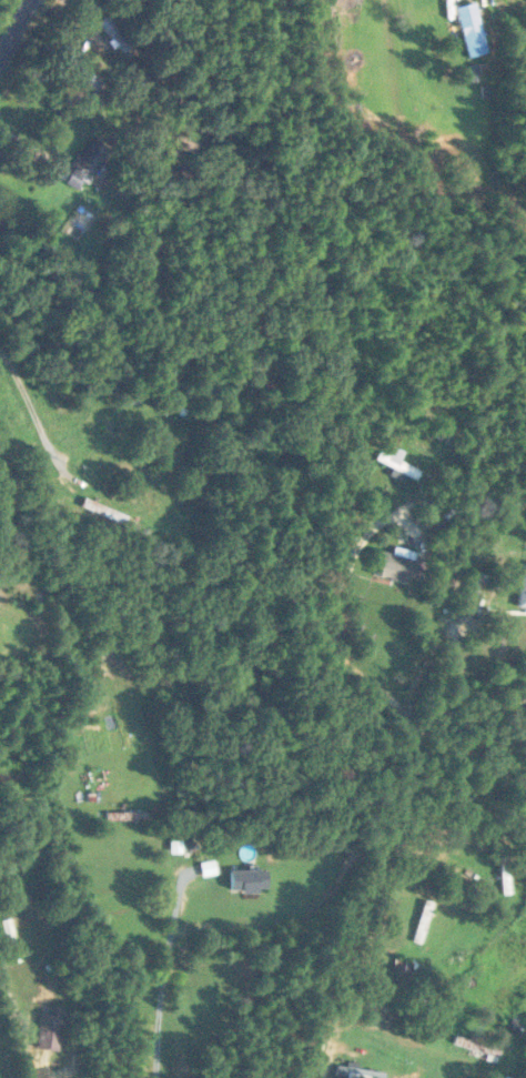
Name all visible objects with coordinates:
road: (14, 27)
building: (1, 446)
building: (397, 463)
building: (107, 511)
building: (392, 566)
building: (522, 591)
road: (381, 847)
building: (506, 872)
building: (250, 881)
building: (424, 923)
road: (165, 975)
building: (52, 1029)
building: (360, 1074)

